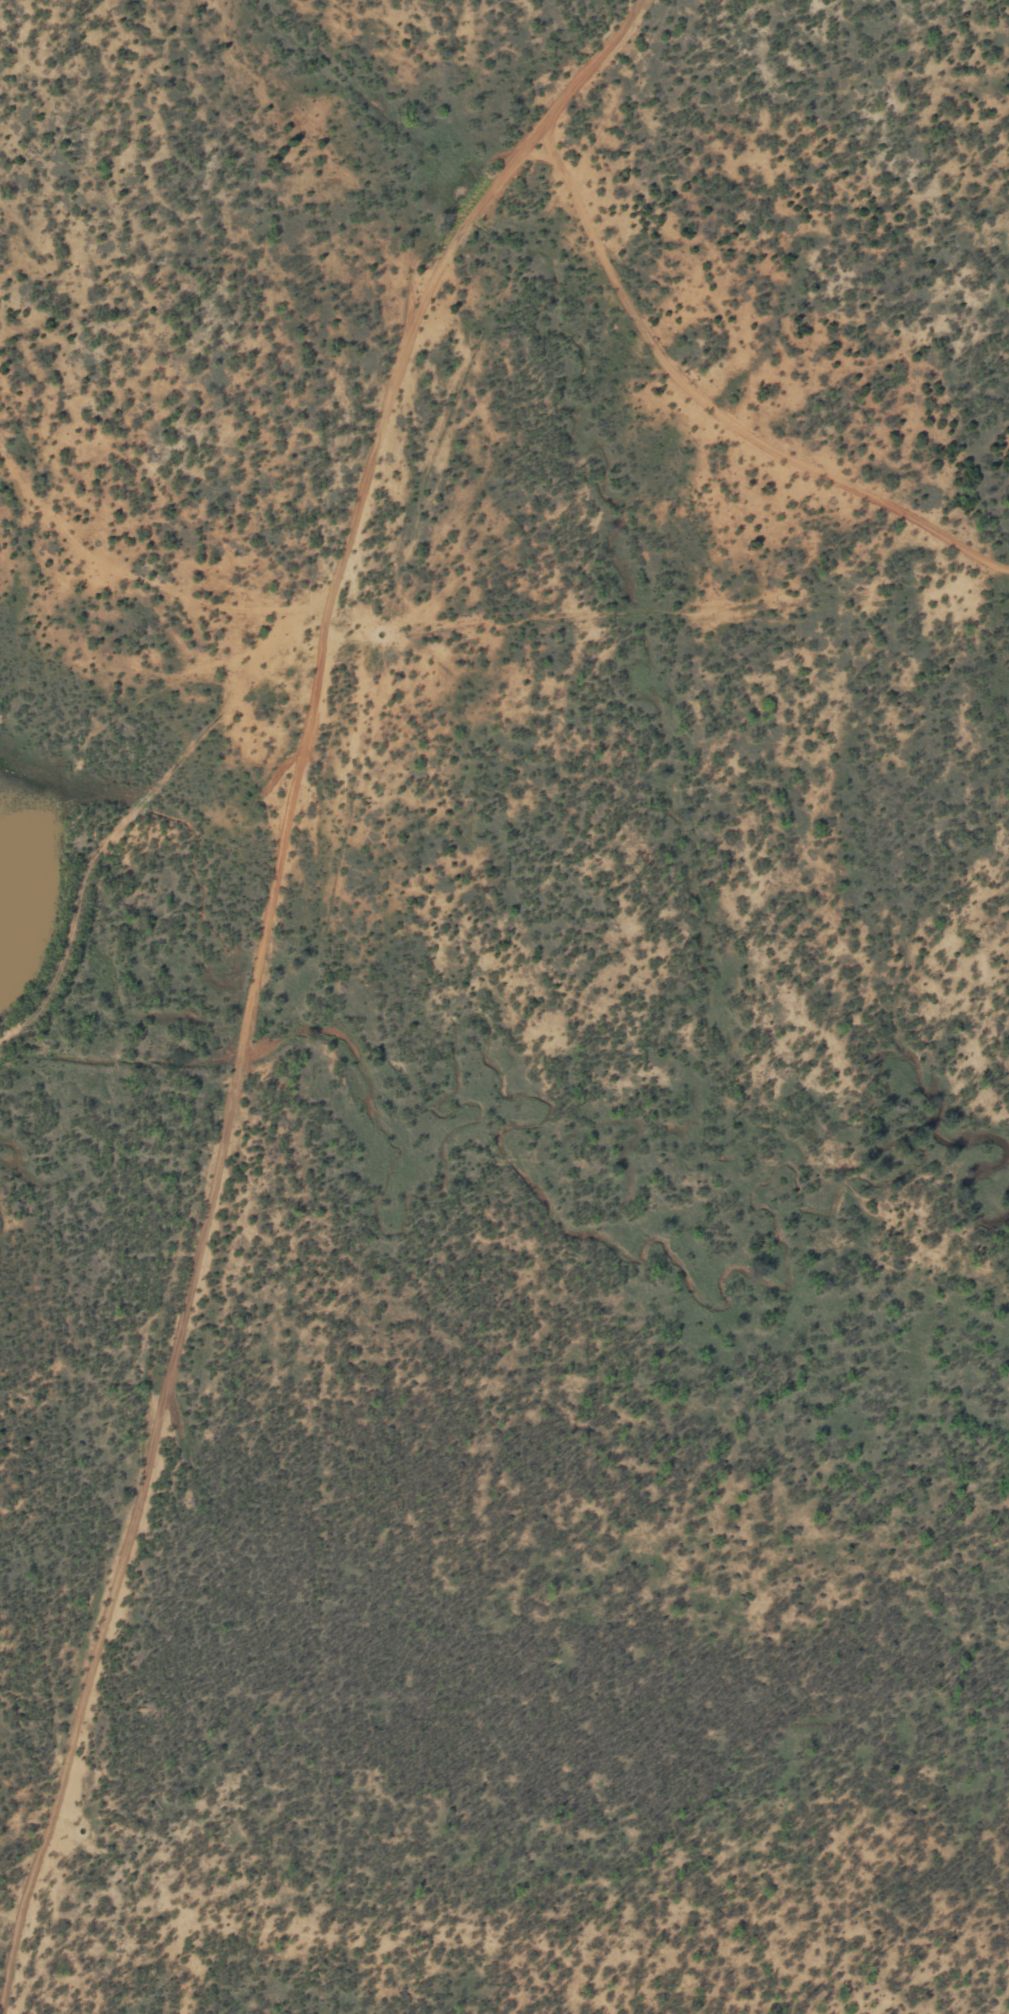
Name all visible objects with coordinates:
road: (718, 429)
road: (125, 467)
road: (236, 949)

